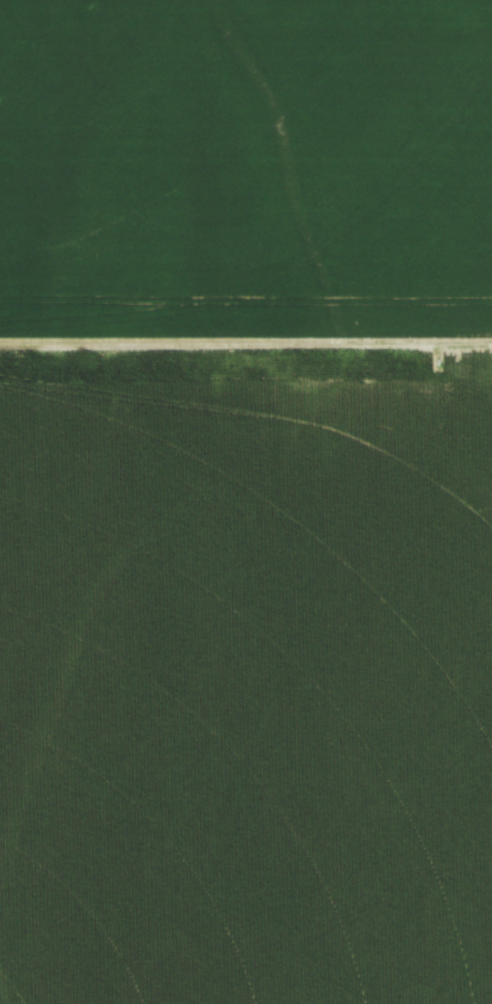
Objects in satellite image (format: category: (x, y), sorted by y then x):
road: (245, 345)
crop: (246, 502)

